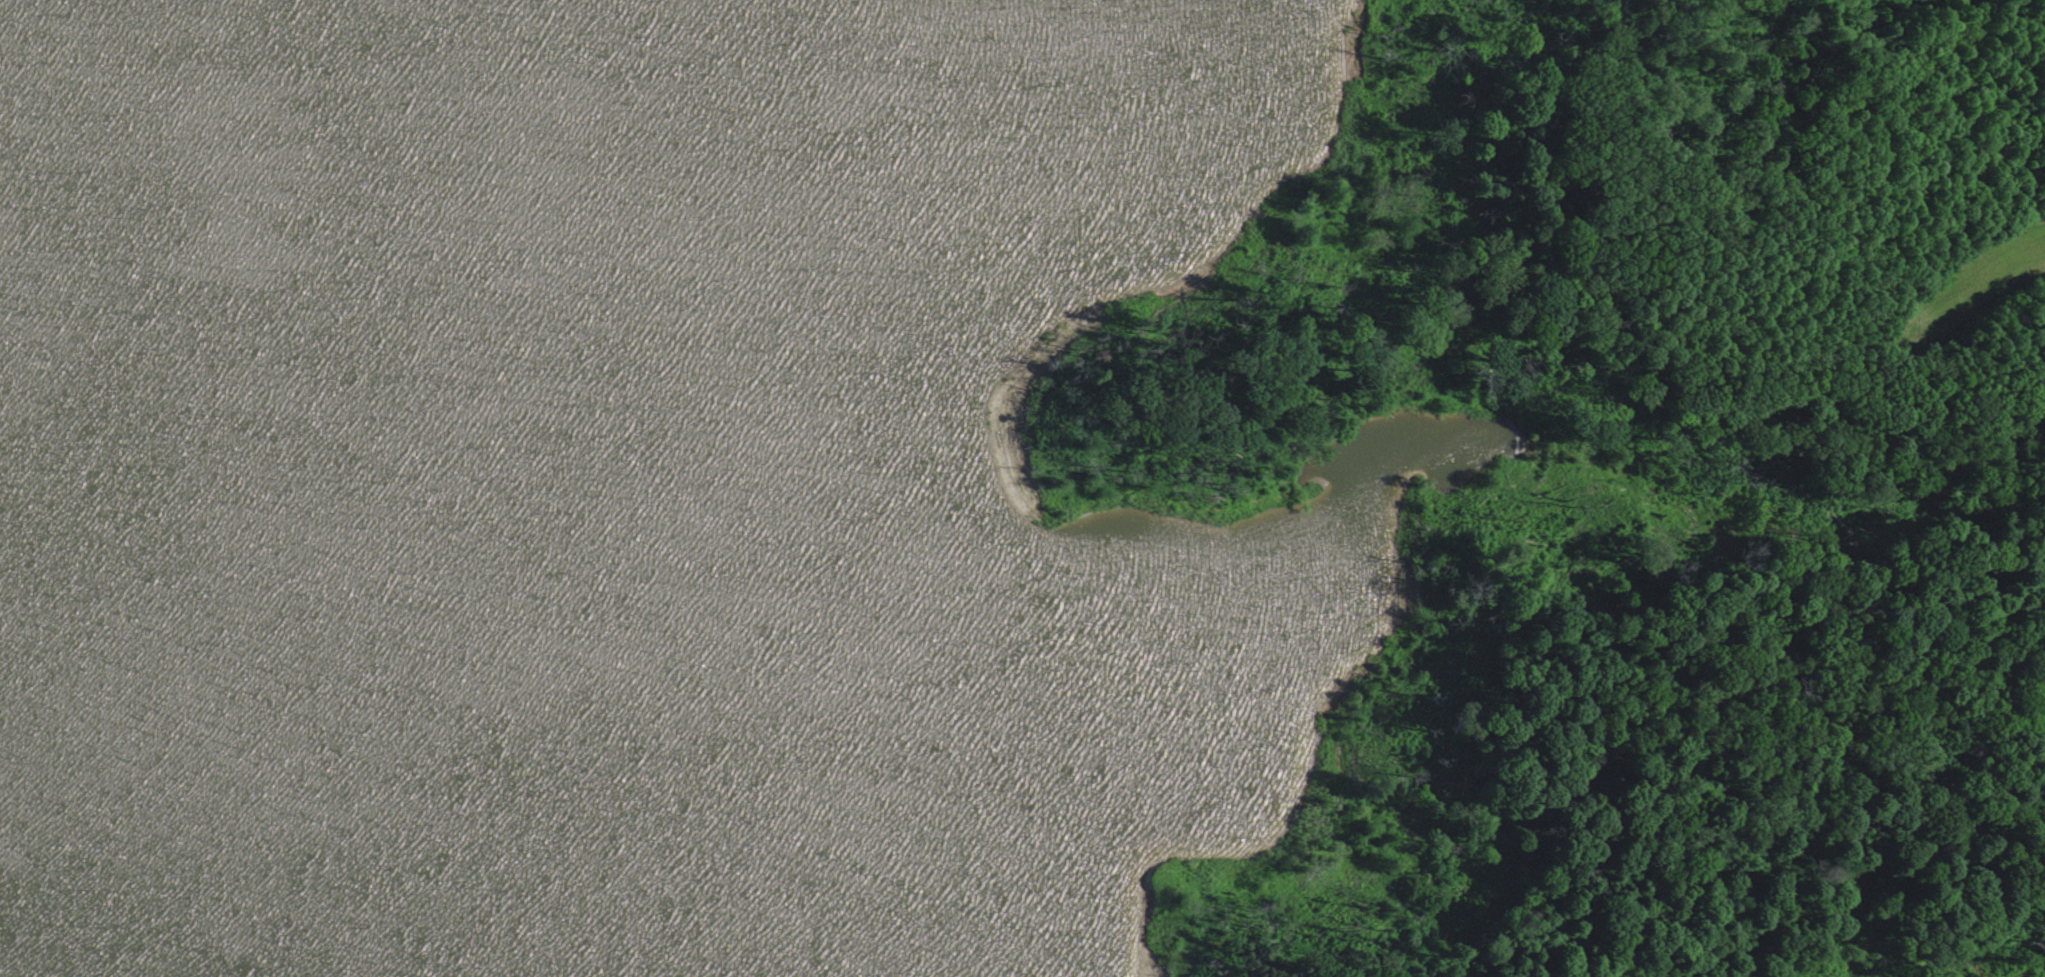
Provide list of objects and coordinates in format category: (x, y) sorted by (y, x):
river: (637, 483)

